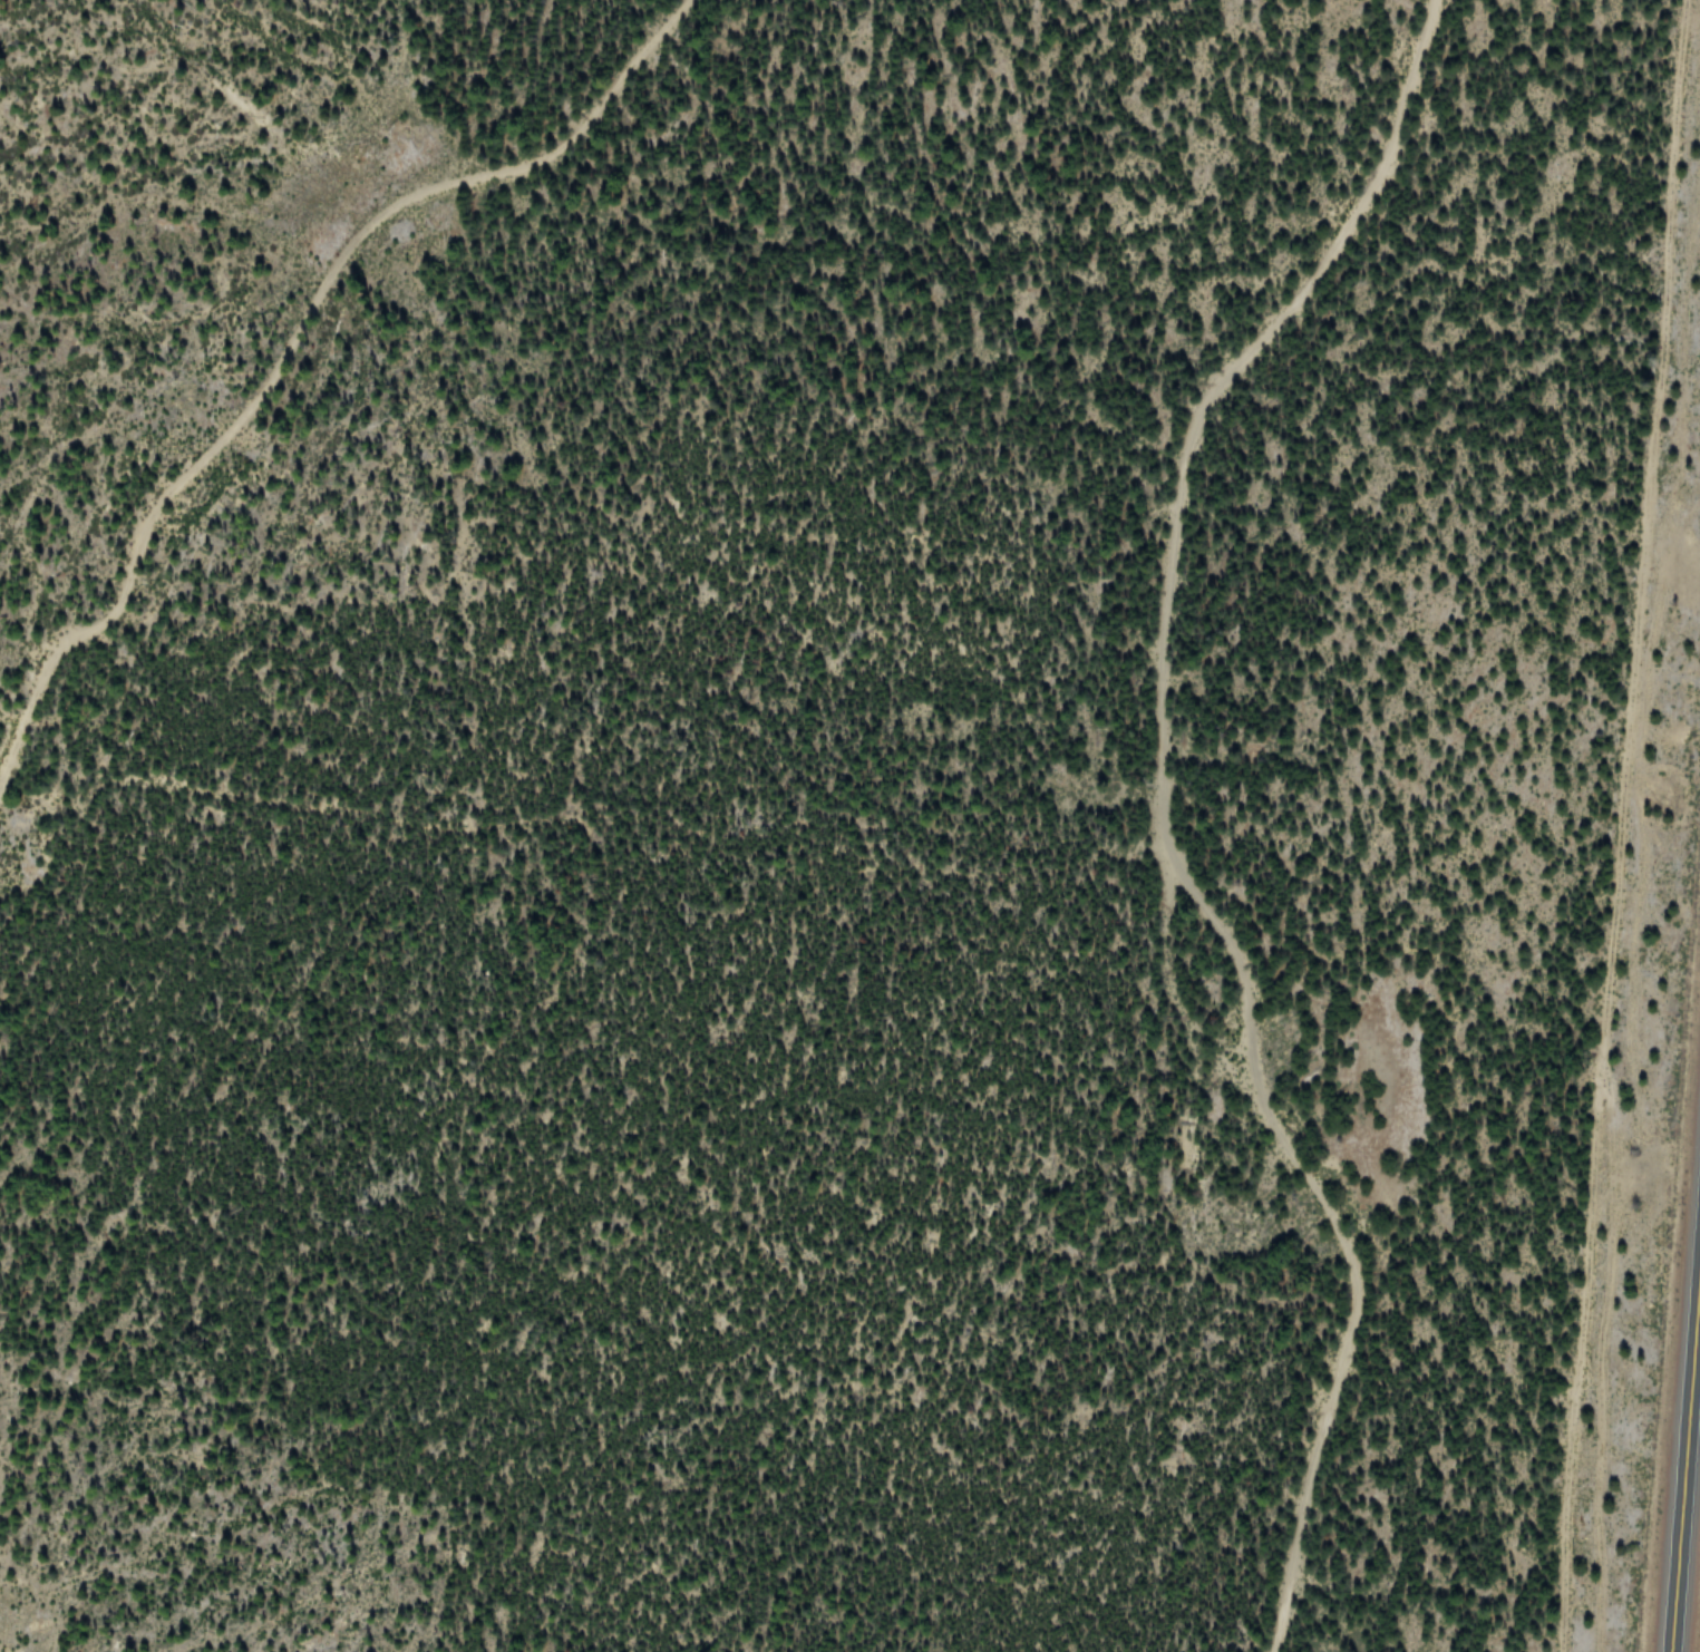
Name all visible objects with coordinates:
road: (1684, 1465)

